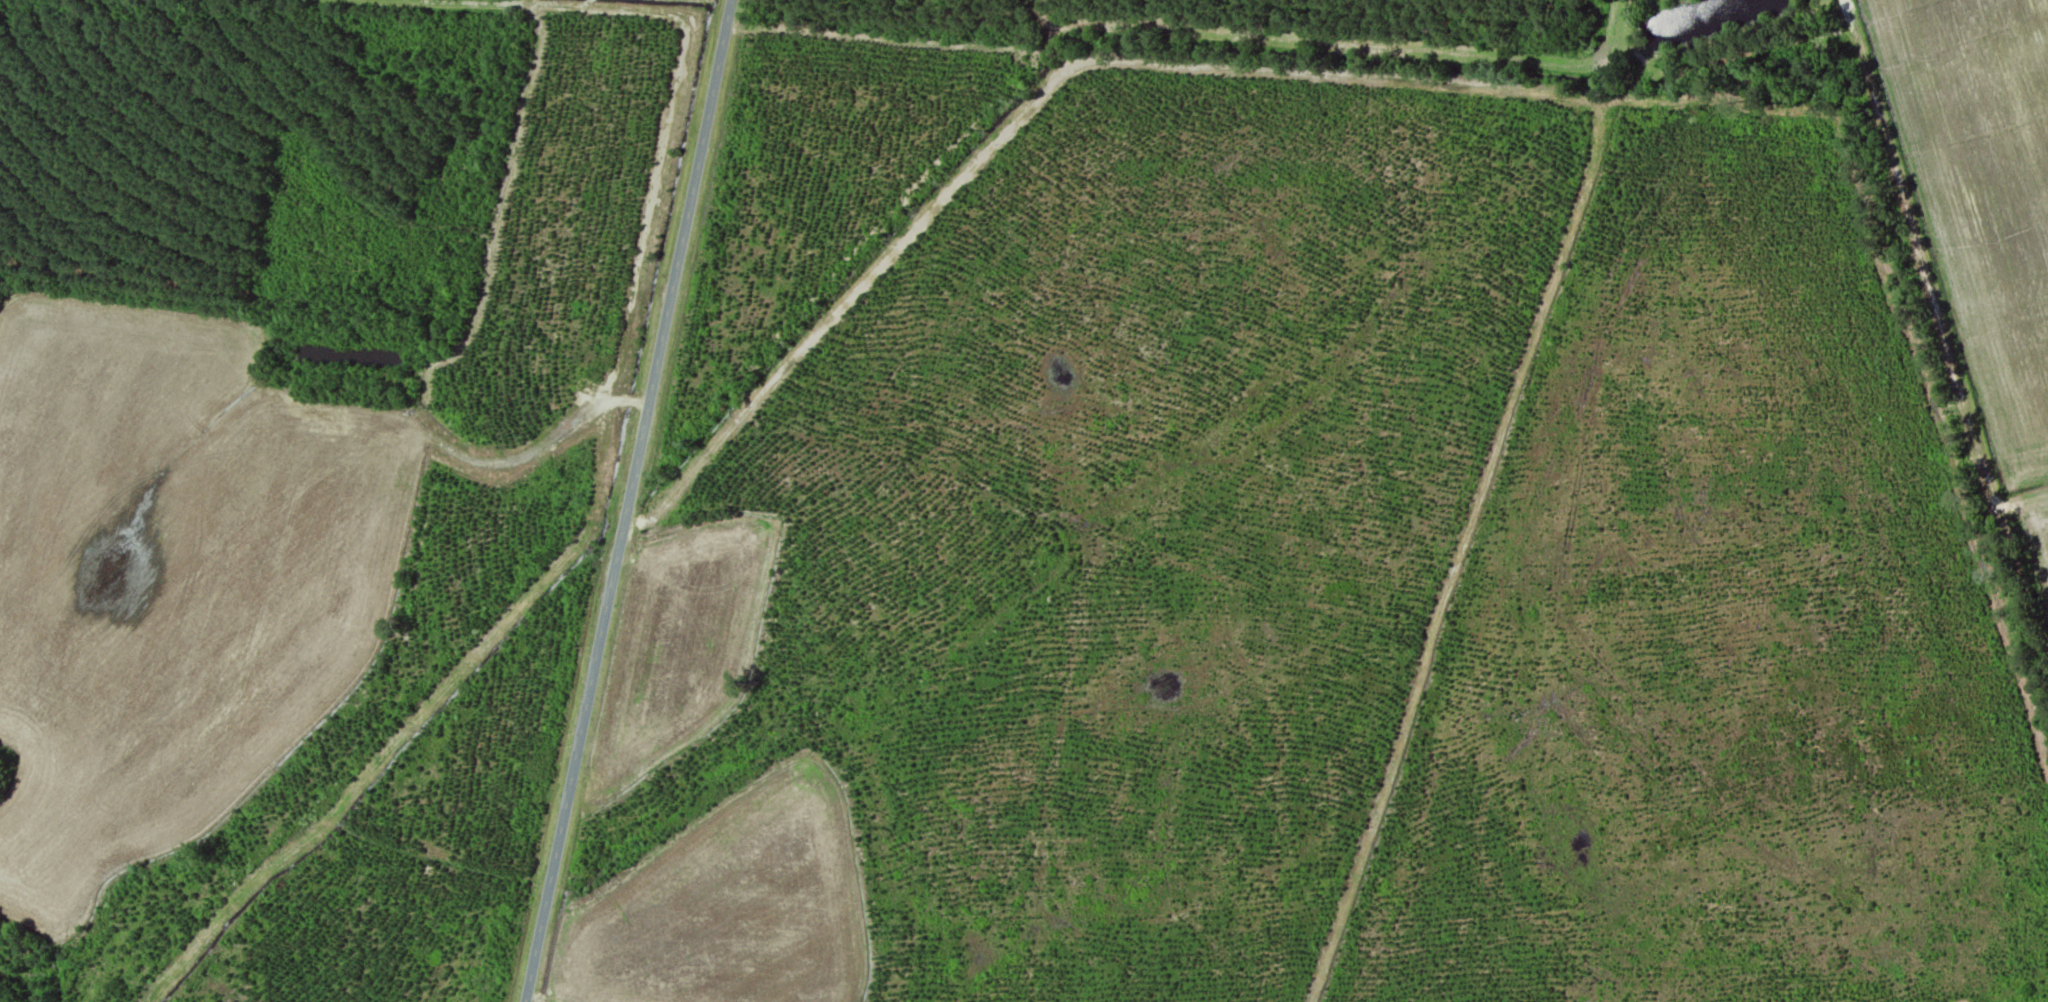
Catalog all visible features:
road: (1637, 16)
road: (1117, 60)
road: (1936, 308)
road: (629, 501)
road: (1459, 550)
road: (1948, 1001)

